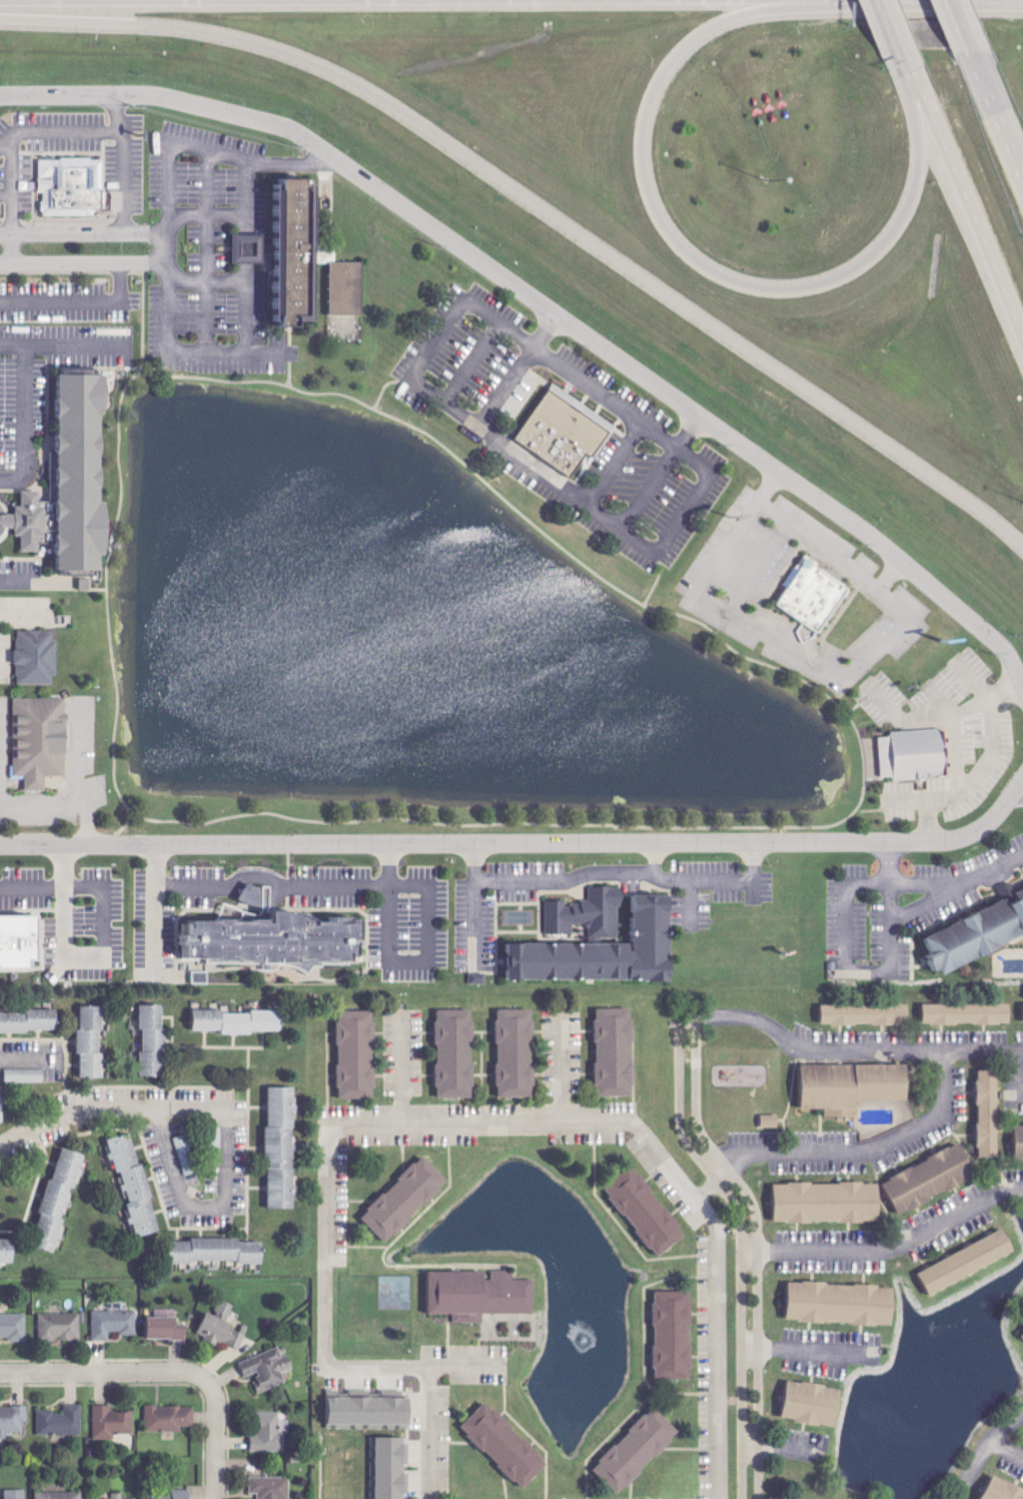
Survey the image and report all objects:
road: (891, 26)
road: (959, 26)
road: (908, 65)
road: (997, 112)
road: (115, 116)
road: (69, 139)
road: (4, 146)
road: (222, 152)
road: (288, 164)
building: (68, 190)
road: (5, 200)
road: (971, 201)
road: (541, 206)
road: (70, 235)
building: (256, 245)
road: (165, 249)
building: (313, 261)
road: (69, 262)
road: (705, 269)
road: (77, 299)
road: (548, 308)
road: (233, 350)
road: (607, 399)
building: (561, 430)
building: (75, 480)
road: (815, 541)
road: (107, 575)
building: (809, 597)
road: (773, 637)
building: (32, 655)
road: (854, 708)
building: (37, 738)
building: (911, 753)
road: (1020, 788)
road: (63, 803)
road: (869, 810)
road: (129, 815)
road: (121, 827)
road: (524, 843)
road: (559, 879)
road: (718, 880)
road: (276, 881)
road: (942, 884)
road: (54, 893)
building: (1022, 894)
building: (980, 940)
building: (277, 942)
building: (603, 943)
building: (22, 945)
building: (480, 979)
building: (970, 1015)
building: (865, 1016)
building: (30, 1021)
building: (241, 1022)
building: (155, 1042)
building: (93, 1043)
building: (617, 1053)
building: (518, 1054)
building: (458, 1055)
building: (359, 1056)
road: (19, 1058)
road: (558, 1070)
road: (404, 1074)
building: (26, 1076)
building: (857, 1088)
road: (687, 1096)
road: (102, 1111)
building: (992, 1114)
building: (770, 1122)
road: (507, 1125)
building: (1021, 1135)
building: (284, 1149)
road: (863, 1154)
building: (934, 1180)
building: (137, 1186)
building: (408, 1200)
building: (61, 1201)
building: (831, 1204)
road: (191, 1206)
building: (648, 1212)
road: (893, 1250)
building: (220, 1252)
building: (8, 1253)
building: (970, 1263)
building: (482, 1295)
building: (845, 1305)
building: (114, 1323)
building: (61, 1326)
building: (224, 1326)
building: (14, 1327)
building: (167, 1329)
building: (1020, 1335)
building: (676, 1336)
road: (814, 1353)
building: (269, 1368)
road: (106, 1374)
road: (434, 1395)
building: (815, 1403)
building: (373, 1411)
building: (14, 1418)
building: (170, 1418)
building: (62, 1422)
building: (113, 1422)
building: (270, 1432)
road: (216, 1441)
building: (508, 1444)
road: (786, 1449)
building: (639, 1450)
road: (983, 1451)
road: (1005, 1451)
building: (392, 1466)
building: (272, 1487)
building: (16, 1494)
building: (61, 1495)
building: (177, 1495)
building: (119, 1496)

